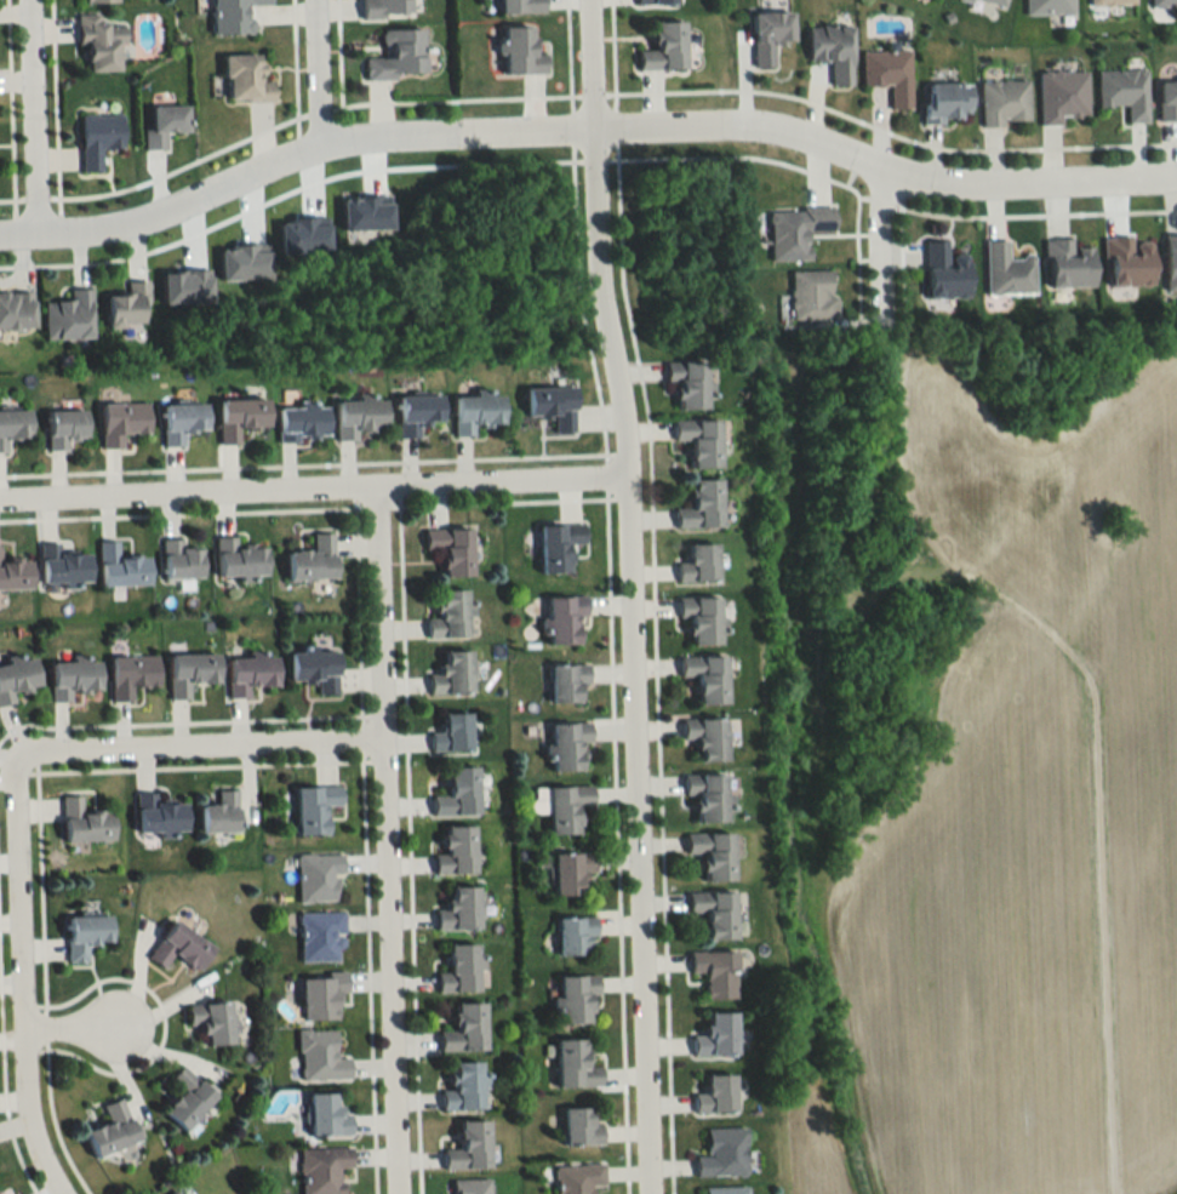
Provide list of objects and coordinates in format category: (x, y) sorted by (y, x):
building: (101, 0)
building: (657, 1)
building: (993, 2)
building: (1109, 2)
building: (1161, 2)
building: (520, 5)
building: (1049, 7)
building: (384, 8)
building: (232, 15)
building: (769, 35)
building: (97, 41)
building: (664, 47)
building: (832, 50)
building: (520, 51)
building: (398, 55)
road: (315, 72)
building: (887, 73)
building: (244, 79)
building: (1122, 92)
building: (1061, 96)
building: (1166, 98)
building: (944, 101)
building: (1004, 102)
road: (314, 109)
road: (30, 115)
building: (162, 125)
building: (97, 138)
road: (342, 138)
road: (592, 160)
road: (794, 166)
road: (367, 171)
road: (935, 178)
road: (861, 196)
road: (879, 201)
road: (1034, 213)
building: (794, 230)
road: (875, 246)
road: (84, 259)
building: (1127, 262)
building: (1170, 263)
building: (1068, 264)
building: (1006, 270)
building: (944, 272)
building: (811, 295)
building: (127, 305)
building: (16, 310)
building: (68, 316)
building: (687, 383)
building: (552, 405)
building: (417, 411)
building: (475, 411)
building: (358, 416)
building: (239, 417)
building: (121, 422)
building: (181, 422)
building: (301, 422)
building: (12, 425)
building: (63, 428)
building: (699, 440)
road: (310, 482)
building: (702, 504)
building: (559, 545)
building: (451, 549)
building: (238, 559)
building: (312, 560)
building: (179, 561)
building: (699, 564)
building: (62, 566)
building: (120, 567)
building: (13, 573)
road: (625, 595)
building: (451, 616)
building: (702, 618)
building: (565, 619)
building: (314, 669)
building: (190, 673)
building: (250, 673)
building: (131, 675)
building: (453, 675)
building: (16, 678)
building: (708, 678)
building: (72, 679)
building: (567, 682)
building: (452, 735)
building: (708, 738)
building: (568, 745)
road: (198, 748)
building: (458, 794)
building: (708, 798)
building: (567, 807)
building: (314, 809)
building: (221, 813)
building: (158, 816)
crop: (1025, 821)
building: (84, 822)
road: (385, 836)
building: (457, 852)
building: (713, 855)
building: (571, 872)
building: (318, 876)
building: (459, 910)
building: (714, 913)
building: (85, 935)
building: (575, 935)
building: (321, 936)
building: (178, 947)
building: (462, 970)
building: (715, 972)
road: (19, 979)
building: (321, 995)
building: (577, 1000)
building: (211, 1022)
road: (74, 1027)
building: (465, 1029)
building: (715, 1036)
building: (320, 1057)
building: (575, 1067)
building: (465, 1087)
building: (715, 1095)
building: (185, 1098)
building: (326, 1116)
building: (581, 1129)
building: (112, 1130)
building: (469, 1148)
crop: (815, 1150)
building: (722, 1154)
building: (324, 1170)
building: (578, 1178)
building: (469, 1187)
building: (726, 1190)
building: (175, 1193)

